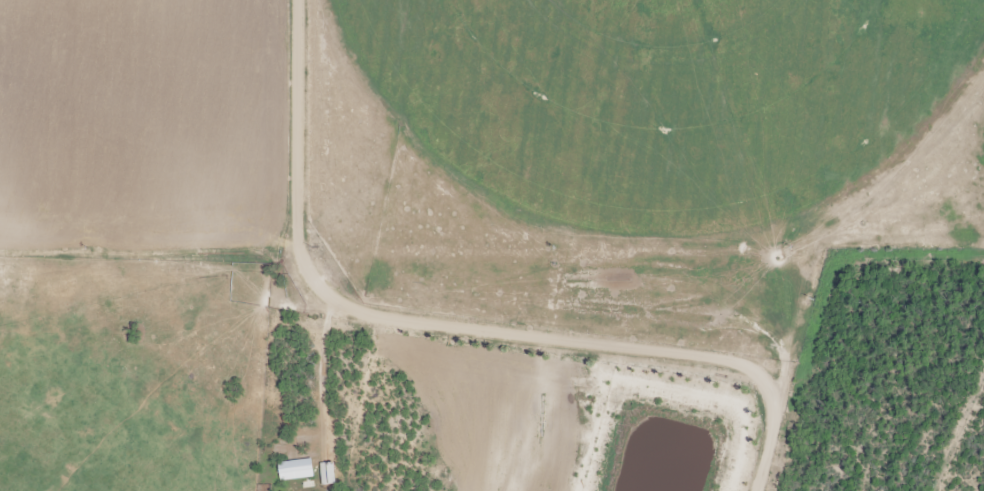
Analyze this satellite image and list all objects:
road: (304, 130)
road: (423, 328)
road: (964, 442)
building: (293, 470)
building: (326, 474)

